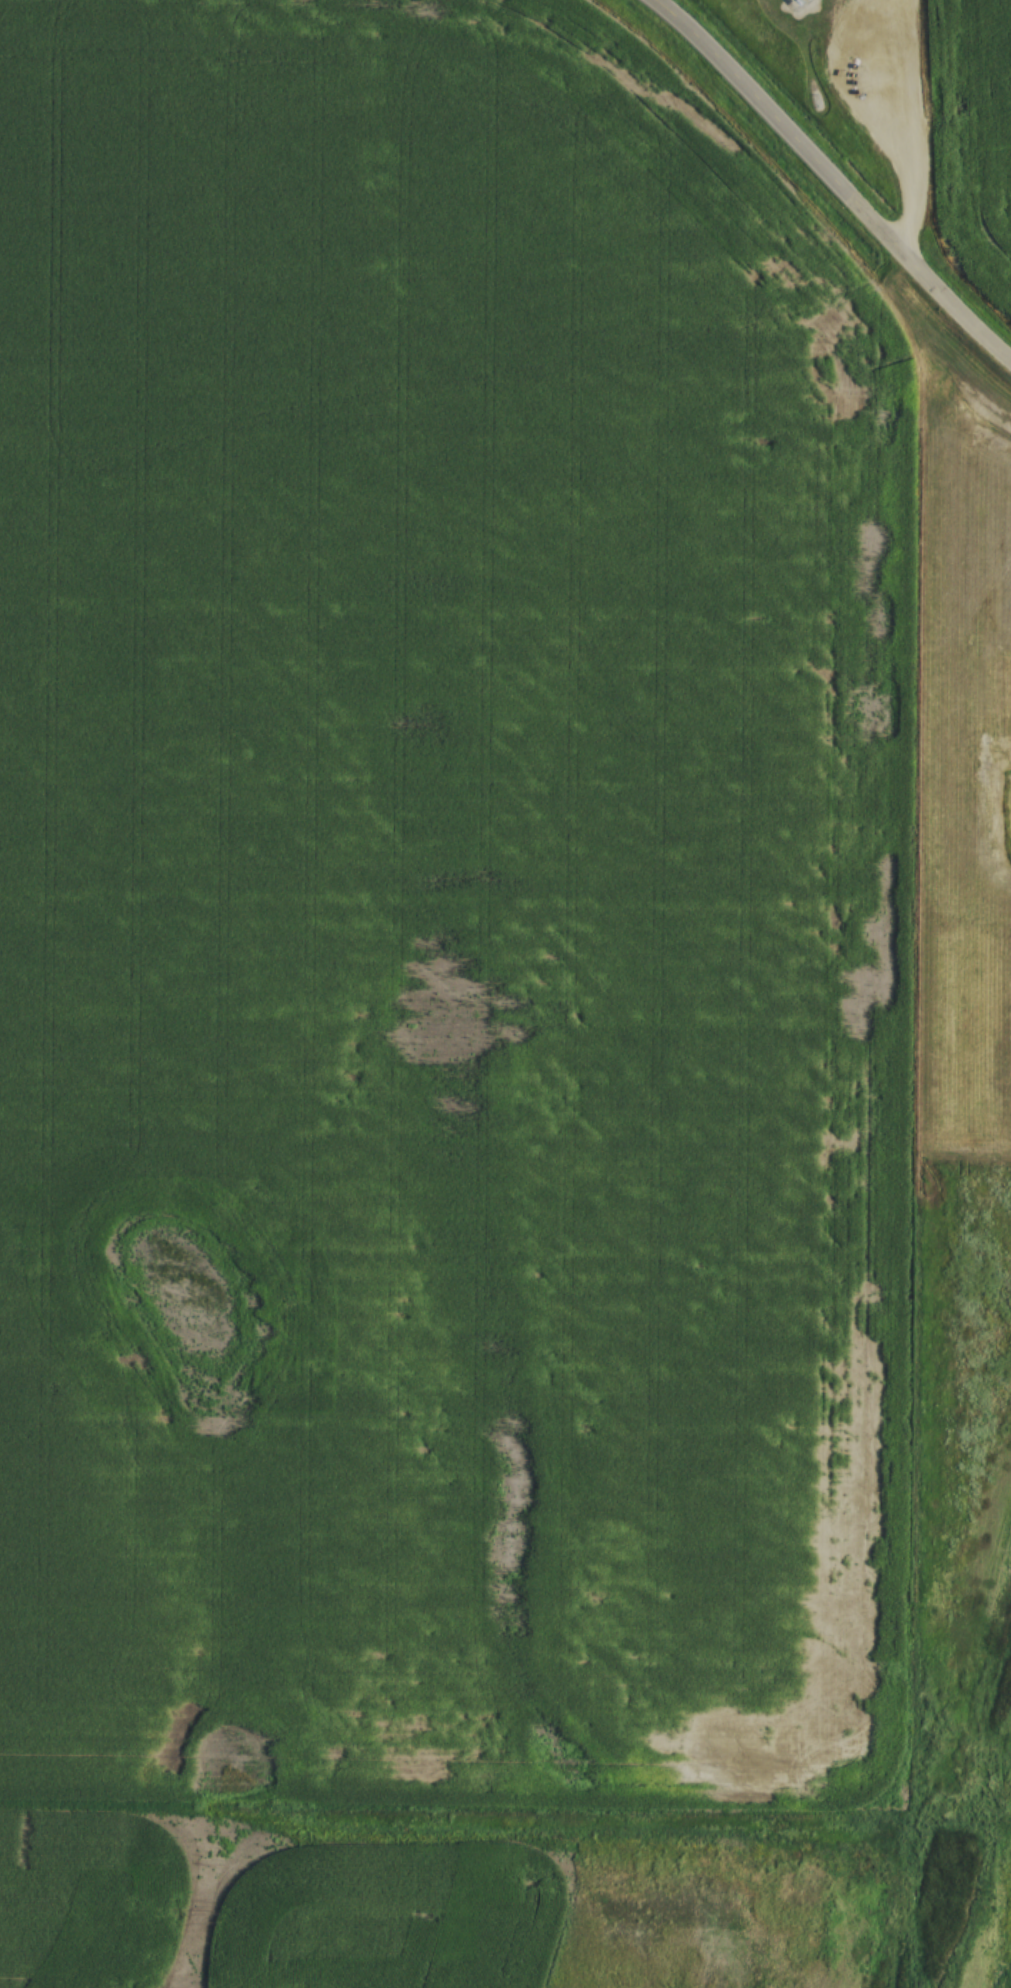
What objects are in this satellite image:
crop: (968, 134)
road: (836, 173)

